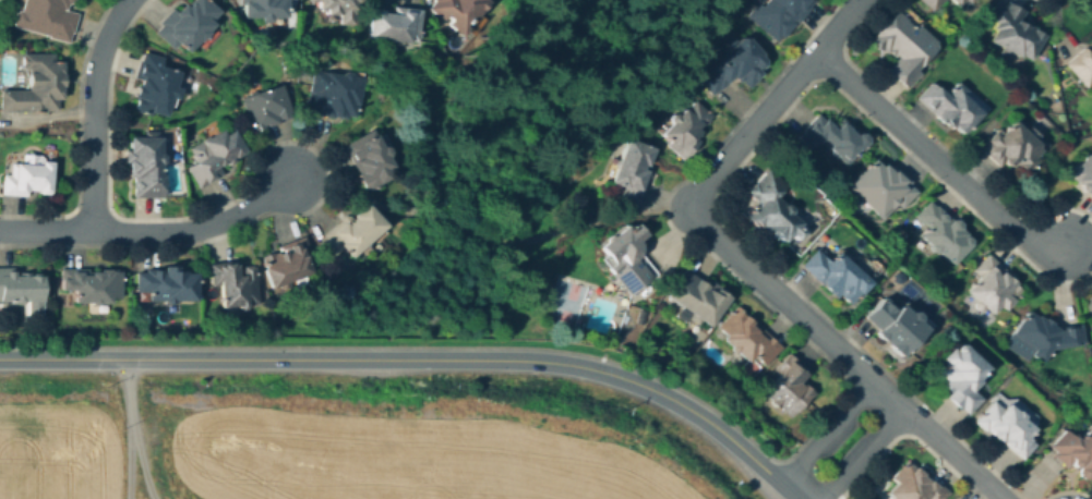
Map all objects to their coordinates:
building: (951, 1)
building: (956, 1)
building: (933, 2)
road: (135, 3)
building: (262, 8)
building: (337, 8)
building: (458, 10)
building: (776, 13)
building: (45, 16)
building: (185, 23)
building: (396, 23)
building: (1015, 29)
building: (903, 47)
building: (732, 66)
building: (1082, 66)
building: (151, 87)
building: (33, 88)
building: (334, 94)
road: (776, 102)
building: (950, 106)
building: (264, 108)
road: (93, 112)
building: (684, 127)
building: (831, 137)
road: (77, 138)
road: (935, 141)
road: (274, 142)
building: (1010, 147)
building: (214, 156)
road: (935, 159)
building: (370, 161)
road: (739, 163)
building: (145, 167)
building: (629, 171)
building: (1083, 173)
building: (31, 178)
building: (883, 187)
building: (770, 208)
road: (89, 212)
building: (353, 232)
building: (944, 232)
road: (149, 233)
road: (484, 245)
building: (625, 258)
building: (286, 267)
building: (837, 276)
building: (235, 283)
building: (92, 284)
building: (17, 285)
building: (991, 287)
building: (167, 288)
road: (780, 296)
building: (698, 297)
park: (916, 300)
park: (565, 304)
building: (896, 326)
building: (1046, 333)
building: (747, 337)
building: (1091, 349)
road: (419, 361)
building: (961, 377)
building: (788, 386)
road: (711, 409)
building: (1007, 428)
road: (127, 429)
road: (826, 434)
road: (908, 434)
road: (937, 440)
crop: (60, 450)
building: (1075, 452)
road: (864, 455)
road: (139, 457)
crop: (403, 458)
building: (914, 485)
road: (1066, 491)

